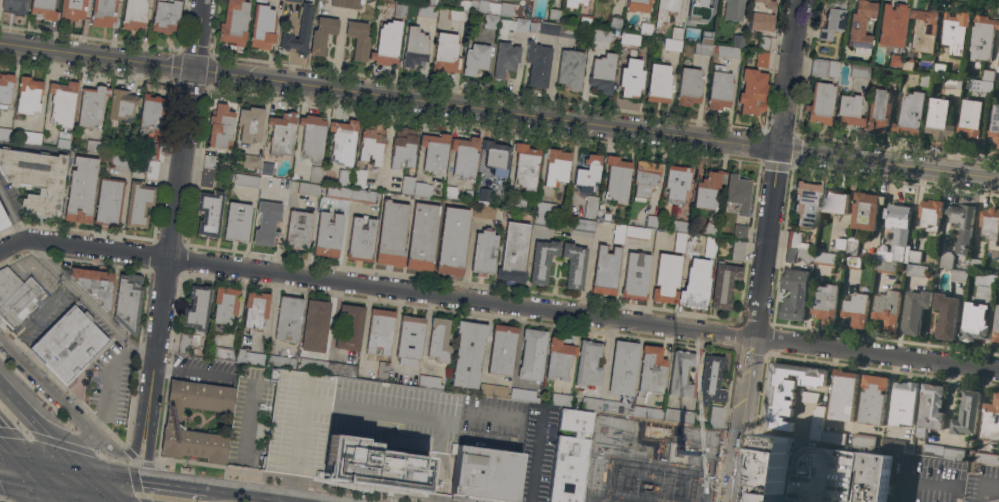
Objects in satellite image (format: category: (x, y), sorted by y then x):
building: (294, 0)
building: (652, 0)
building: (344, 3)
building: (389, 3)
building: (573, 3)
building: (638, 5)
building: (14, 6)
building: (485, 6)
building: (43, 8)
building: (506, 8)
building: (400, 9)
building: (428, 9)
building: (73, 10)
building: (665, 10)
building: (699, 10)
building: (733, 10)
building: (460, 11)
building: (103, 12)
building: (134, 14)
building: (554, 14)
building: (166, 15)
building: (761, 15)
building: (833, 19)
building: (586, 20)
building: (490, 21)
building: (234, 22)
building: (615, 22)
building: (859, 24)
building: (891, 24)
building: (263, 26)
building: (511, 26)
building: (549, 27)
building: (646, 28)
building: (923, 29)
building: (303, 30)
building: (570, 31)
building: (954, 31)
building: (677, 32)
building: (322, 34)
building: (600, 34)
building: (707, 36)
building: (981, 38)
building: (358, 39)
building: (629, 39)
building: (737, 40)
building: (763, 41)
building: (387, 43)
building: (672, 44)
building: (415, 47)
building: (703, 48)
building: (728, 51)
building: (446, 54)
building: (475, 58)
building: (761, 58)
building: (506, 59)
building: (894, 60)
building: (907, 60)
building: (538, 63)
building: (998, 64)
building: (824, 67)
building: (570, 68)
building: (939, 68)
building: (860, 71)
building: (603, 73)
building: (890, 75)
building: (987, 75)
building: (631, 77)
building: (924, 80)
building: (952, 82)
building: (659, 83)
building: (981, 85)
building: (689, 86)
building: (719, 87)
building: (5, 88)
building: (752, 91)
building: (28, 95)
road: (701, 98)
building: (820, 103)
building: (121, 104)
building: (91, 105)
building: (62, 108)
building: (848, 110)
building: (878, 110)
road: (499, 111)
building: (911, 114)
building: (151, 115)
building: (939, 119)
building: (971, 121)
building: (250, 123)
building: (994, 123)
building: (220, 126)
building: (5, 133)
building: (282, 134)
building: (30, 136)
building: (312, 136)
building: (343, 141)
building: (372, 143)
building: (94, 145)
building: (998, 146)
building: (403, 147)
traffic signals: (781, 150)
building: (151, 151)
building: (434, 152)
building: (465, 155)
building: (496, 156)
building: (118, 161)
building: (252, 163)
building: (525, 165)
building: (555, 166)
road: (182, 168)
building: (267, 168)
building: (150, 169)
building: (208, 169)
road: (778, 169)
building: (588, 172)
building: (315, 174)
building: (346, 176)
building: (35, 178)
building: (359, 178)
building: (617, 178)
building: (645, 178)
building: (245, 180)
building: (676, 183)
building: (407, 184)
building: (308, 188)
building: (81, 189)
building: (422, 189)
building: (450, 191)
building: (707, 191)
building: (338, 192)
building: (484, 194)
building: (737, 194)
building: (363, 195)
building: (518, 200)
building: (108, 201)
building: (835, 202)
building: (138, 203)
building: (806, 203)
building: (546, 207)
building: (590, 207)
building: (865, 210)
building: (484, 211)
building: (209, 212)
building: (930, 214)
building: (544, 219)
building: (651, 220)
building: (2, 221)
building: (237, 221)
building: (266, 221)
building: (583, 224)
building: (679, 225)
building: (962, 225)
building: (990, 227)
building: (710, 228)
building: (298, 229)
building: (739, 231)
building: (391, 232)
building: (637, 232)
building: (897, 232)
building: (619, 233)
building: (327, 234)
building: (422, 236)
building: (361, 238)
building: (452, 240)
building: (679, 241)
building: (840, 243)
building: (710, 245)
building: (852, 245)
building: (797, 248)
building: (738, 250)
building: (514, 251)
building: (484, 252)
building: (914, 256)
building: (825, 258)
building: (542, 260)
building: (945, 260)
building: (852, 262)
building: (574, 264)
building: (975, 264)
building: (885, 266)
building: (605, 269)
building: (916, 270)
road: (588, 272)
building: (635, 274)
building: (958, 276)
building: (666, 277)
building: (986, 279)
building: (7, 282)
road: (68, 283)
building: (95, 283)
building: (696, 283)
building: (724, 284)
road: (374, 286)
building: (794, 293)
building: (128, 301)
building: (19, 302)
building: (825, 303)
building: (225, 304)
building: (197, 307)
building: (255, 308)
building: (887, 308)
building: (856, 310)
building: (914, 311)
building: (946, 315)
building: (288, 318)
building: (974, 322)
building: (315, 325)
building: (350, 326)
building: (996, 329)
building: (380, 330)
road: (393, 338)
building: (409, 339)
building: (439, 339)
building: (67, 342)
building: (186, 342)
building: (502, 349)
building: (222, 352)
building: (468, 353)
building: (532, 354)
road: (875, 354)
building: (249, 357)
building: (559, 358)
building: (280, 361)
building: (588, 363)
building: (84, 365)
building: (313, 365)
building: (622, 367)
building: (342, 368)
building: (383, 370)
building: (650, 370)
road: (189, 371)
building: (680, 373)
building: (710, 379)
building: (430, 381)
road: (46, 385)
road: (109, 387)
building: (493, 390)
building: (786, 391)
building: (523, 394)
building: (842, 395)
building: (809, 396)
building: (561, 399)
building: (872, 399)
road: (14, 402)
building: (592, 403)
building: (904, 403)
building: (616, 407)
road: (153, 409)
building: (930, 409)
building: (647, 411)
building: (966, 413)
building: (678, 415)
building: (715, 416)
road: (141, 418)
road: (740, 419)
building: (990, 419)
building: (172, 420)
building: (816, 423)
building: (299, 424)
building: (388, 433)
road: (60, 434)
building: (833, 437)
road: (249, 439)
road: (48, 440)
building: (863, 440)
road: (49, 441)
road: (8, 443)
building: (893, 445)
road: (8, 449)
building: (933, 450)
traffic signals: (16, 451)
road: (127, 453)
building: (953, 453)
road: (535, 455)
building: (569, 456)
road: (43, 457)
building: (986, 458)
road: (114, 459)
road: (144, 462)
road: (661, 462)
traffic signals: (71, 464)
road: (32, 469)
building: (768, 469)
road: (108, 473)
road: (823, 473)
building: (485, 474)
building: (874, 477)
road: (304, 480)
road: (88, 481)
road: (914, 481)
road: (24, 482)
road: (137, 482)
road: (681, 484)
road: (174, 486)
traffic signals: (48, 487)
road: (983, 488)
road: (76, 492)
road: (54, 494)
road: (246, 495)
road: (624, 496)
traffic signals: (105, 498)
road: (2, 500)
road: (107, 500)
road: (119, 500)

